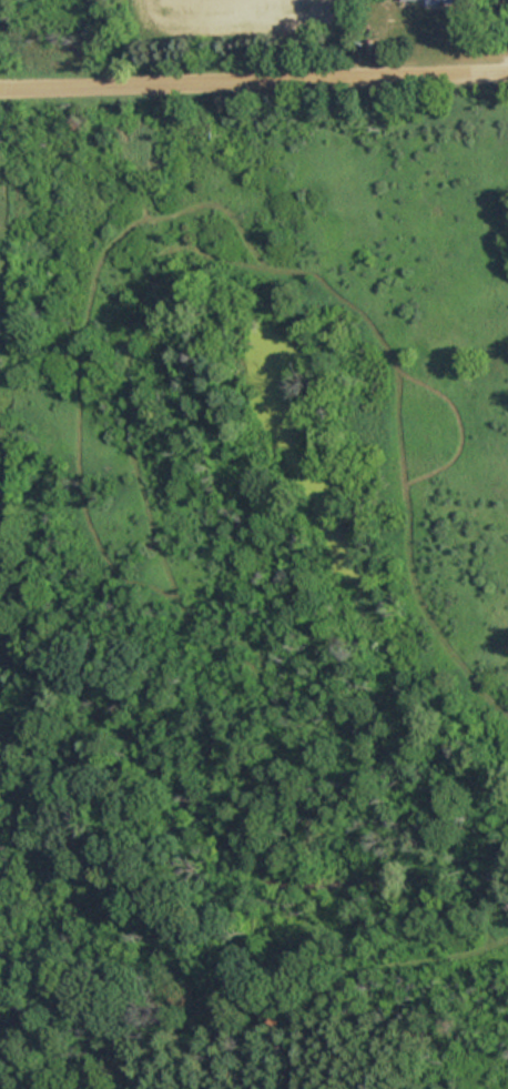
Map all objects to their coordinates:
building: (413, 0)
road: (254, 80)

